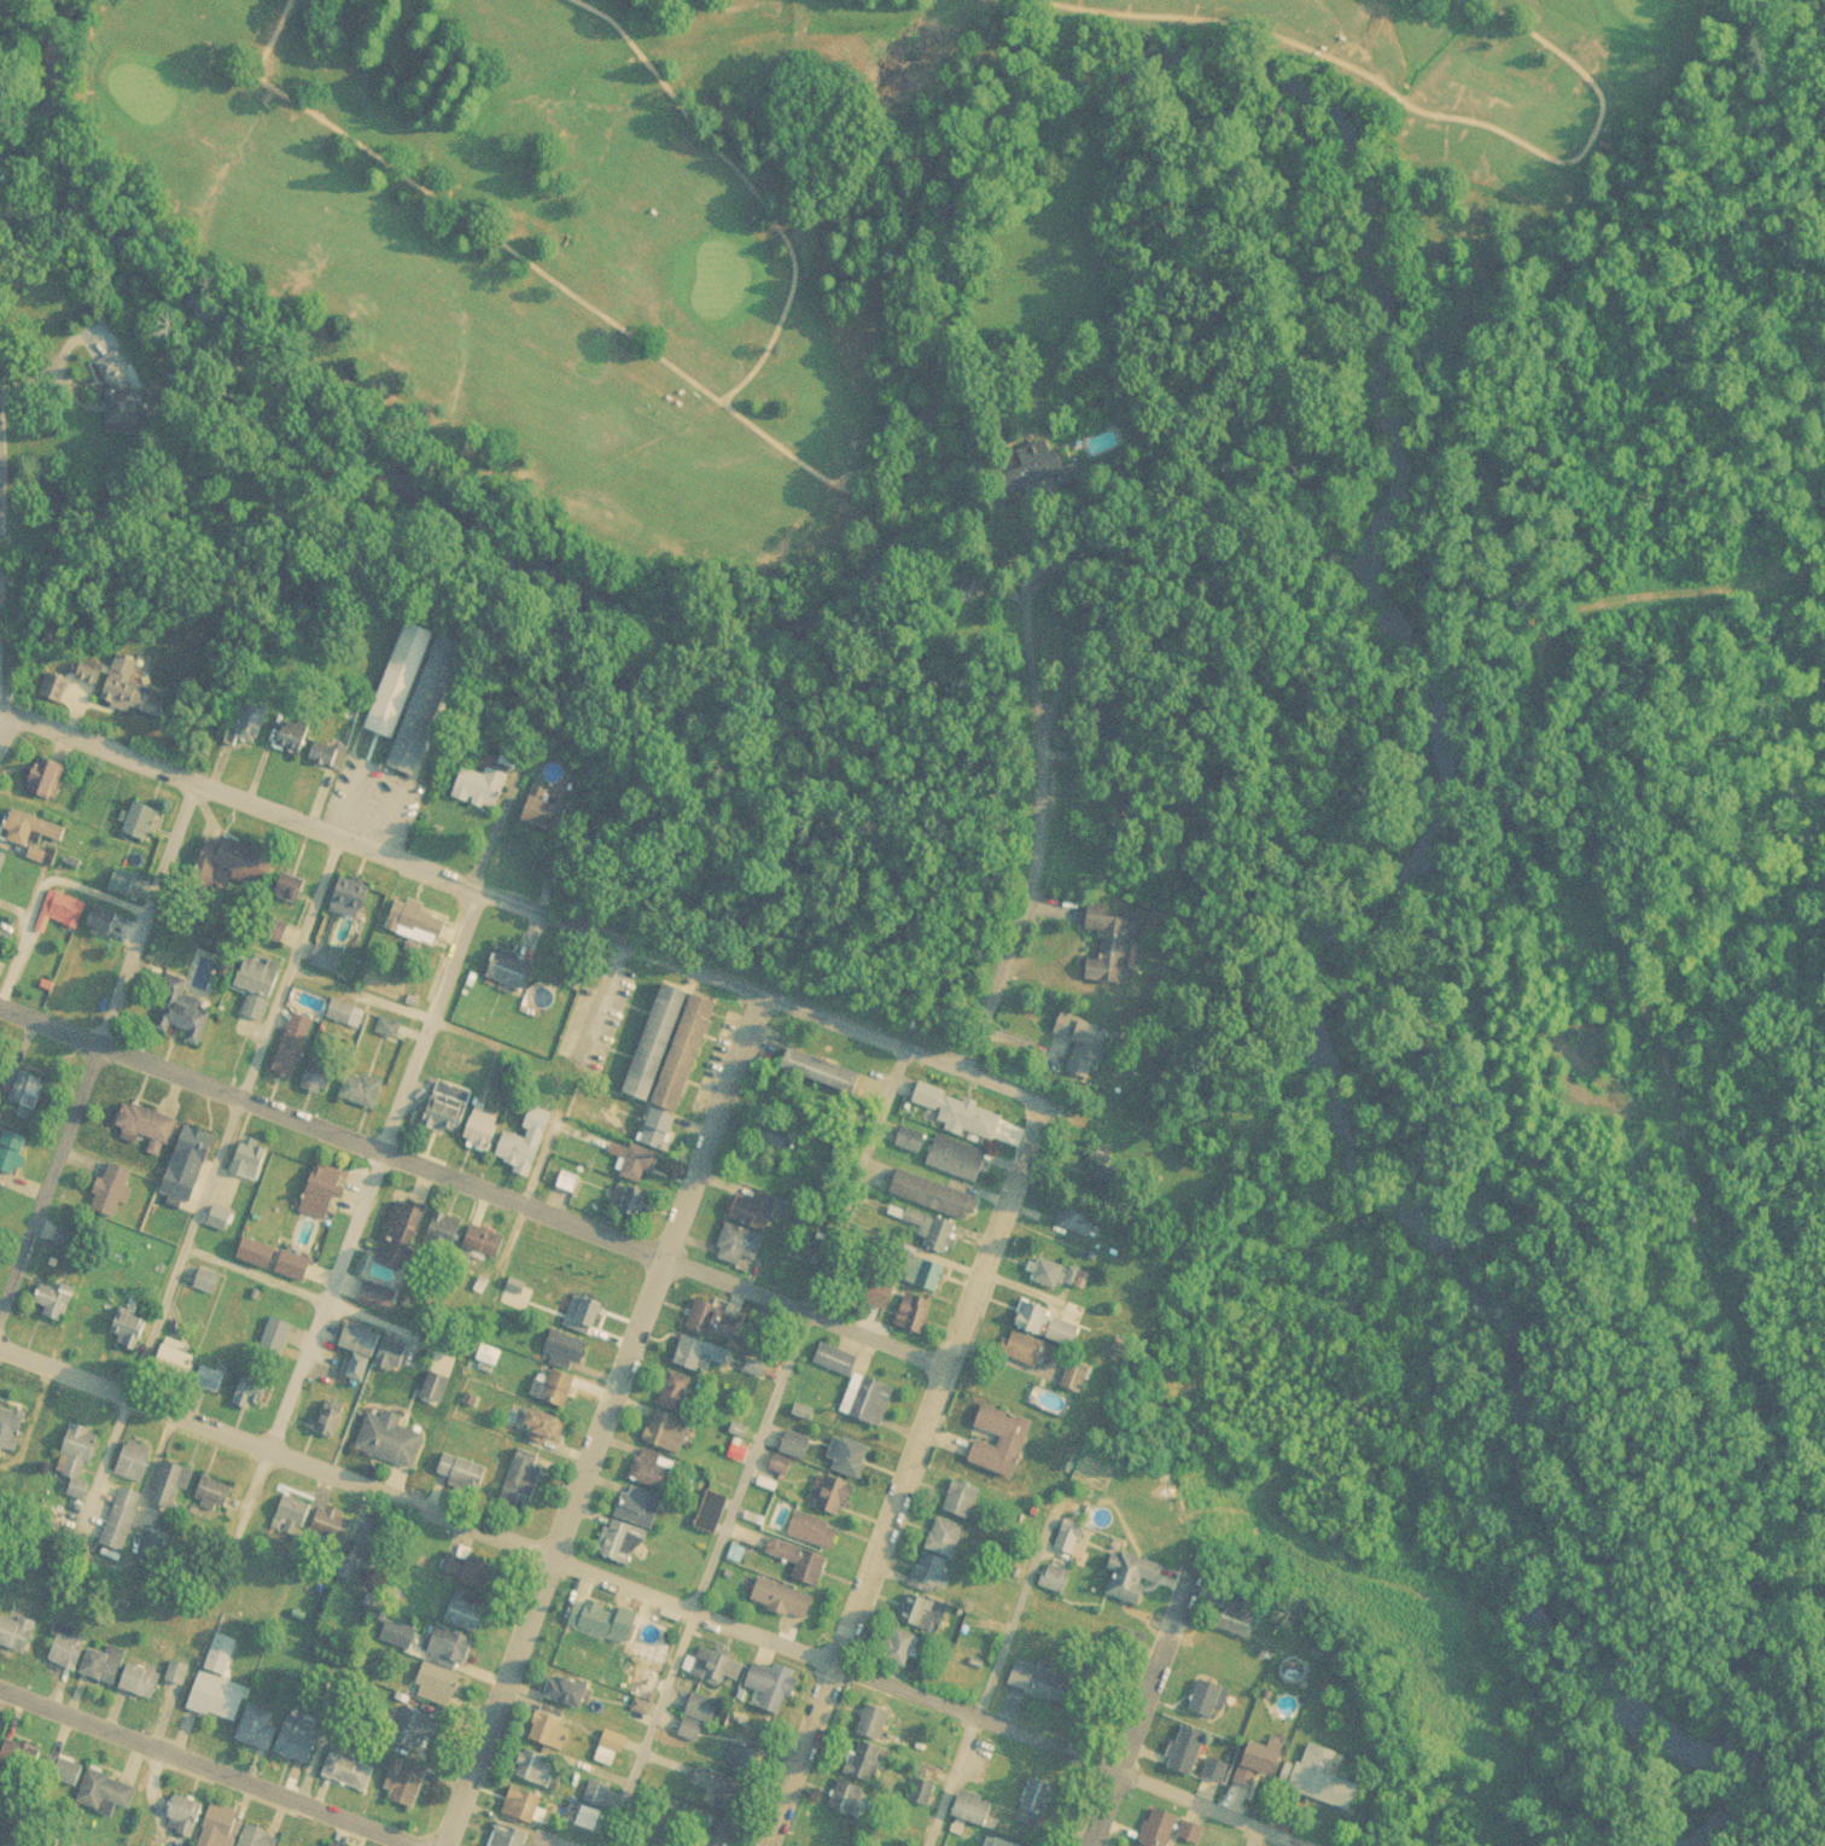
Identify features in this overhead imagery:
road: (1413, 107)
park: (705, 202)
road: (456, 211)
road: (782, 237)
building: (127, 408)
building: (1040, 471)
road: (857, 479)
building: (396, 679)
building: (52, 687)
building: (121, 687)
building: (286, 701)
building: (425, 704)
building: (247, 721)
building: (291, 738)
building: (326, 755)
road: (1066, 765)
building: (45, 778)
building: (483, 786)
building: (542, 816)
building: (140, 821)
building: (30, 829)
building: (37, 855)
building: (1, 858)
building: (237, 862)
building: (121, 883)
building: (290, 889)
road: (37, 891)
building: (348, 903)
building: (63, 909)
road: (553, 914)
building: (100, 920)
building: (416, 922)
road: (1018, 942)
building: (1110, 944)
building: (326, 960)
road: (291, 966)
building: (511, 969)
building: (252, 989)
road: (362, 991)
building: (344, 1014)
building: (183, 1020)
building: (1080, 1044)
road: (97, 1046)
building: (292, 1047)
building: (671, 1048)
building: (820, 1071)
building: (316, 1077)
building: (361, 1089)
building: (24, 1099)
building: (447, 1108)
building: (967, 1118)
building: (146, 1130)
building: (480, 1130)
building: (776, 1136)
building: (524, 1143)
building: (12, 1152)
building: (247, 1159)
building: (955, 1159)
building: (637, 1164)
building: (186, 1165)
road: (374, 1172)
building: (566, 1182)
road: (472, 1189)
building: (110, 1190)
building: (319, 1194)
building: (929, 1195)
building: (626, 1200)
building: (754, 1211)
building: (1073, 1217)
building: (216, 1224)
building: (931, 1231)
building: (442, 1234)
building: (398, 1235)
building: (65, 1239)
building: (477, 1239)
building: (736, 1245)
building: (272, 1260)
building: (923, 1273)
building: (1046, 1273)
building: (205, 1282)
road: (317, 1299)
building: (375, 1299)
building: (53, 1304)
road: (158, 1311)
building: (589, 1312)
building: (911, 1314)
building: (713, 1322)
building: (1043, 1323)
building: (127, 1330)
building: (273, 1338)
building: (564, 1349)
building: (1027, 1350)
building: (369, 1351)
building: (696, 1353)
building: (175, 1359)
building: (834, 1361)
building: (1075, 1376)
building: (437, 1388)
building: (558, 1388)
building: (249, 1392)
building: (672, 1392)
building: (868, 1400)
road: (601, 1417)
building: (327, 1420)
building: (10, 1428)
building: (543, 1428)
building: (665, 1432)
building: (387, 1439)
road: (753, 1442)
building: (1010, 1442)
building: (846, 1457)
building: (77, 1460)
building: (133, 1463)
building: (652, 1472)
building: (460, 1473)
road: (905, 1473)
building: (524, 1481)
building: (170, 1485)
building: (828, 1493)
building: (210, 1497)
building: (961, 1499)
building: (712, 1508)
building: (117, 1514)
building: (288, 1516)
building: (330, 1525)
building: (630, 1526)
building: (812, 1531)
building: (944, 1538)
building: (1068, 1538)
building: (363, 1549)
building: (798, 1562)
building: (468, 1572)
building: (931, 1574)
building: (1053, 1579)
building: (1132, 1579)
road: (643, 1585)
building: (781, 1600)
building: (465, 1612)
building: (922, 1613)
building: (1236, 1614)
building: (604, 1620)
building: (14, 1634)
building: (1124, 1646)
building: (450, 1647)
building: (66, 1648)
building: (902, 1648)
building: (220, 1655)
building: (579, 1655)
building: (103, 1665)
building: (715, 1667)
building: (175, 1672)
building: (139, 1682)
road: (989, 1682)
building: (1043, 1683)
building: (435, 1687)
building: (771, 1688)
building: (567, 1691)
building: (216, 1699)
building: (1207, 1699)
road: (1154, 1708)
building: (873, 1723)
building: (548, 1728)
building: (255, 1729)
building: (413, 1729)
building: (297, 1740)
building: (1184, 1751)
building: (14, 1757)
building: (737, 1759)
building: (862, 1763)
building: (1255, 1763)
building: (535, 1769)
building: (348, 1771)
building: (1214, 1771)
road: (211, 1772)
building: (60, 1774)
building: (1320, 1778)
building: (404, 1783)
building: (717, 1790)
building: (103, 1792)
building: (595, 1794)
building: (845, 1798)
building: (1033, 1804)
building: (520, 1805)
building: (973, 1809)
building: (181, 1816)
building: (587, 1819)
road: (520, 1822)
road: (288, 1823)
building: (217, 1827)
building: (1156, 1828)
building: (715, 1833)
building: (1189, 1833)
road: (1247, 1834)
building: (508, 1836)
building: (256, 1838)
building: (996, 1842)
building: (328, 1845)

